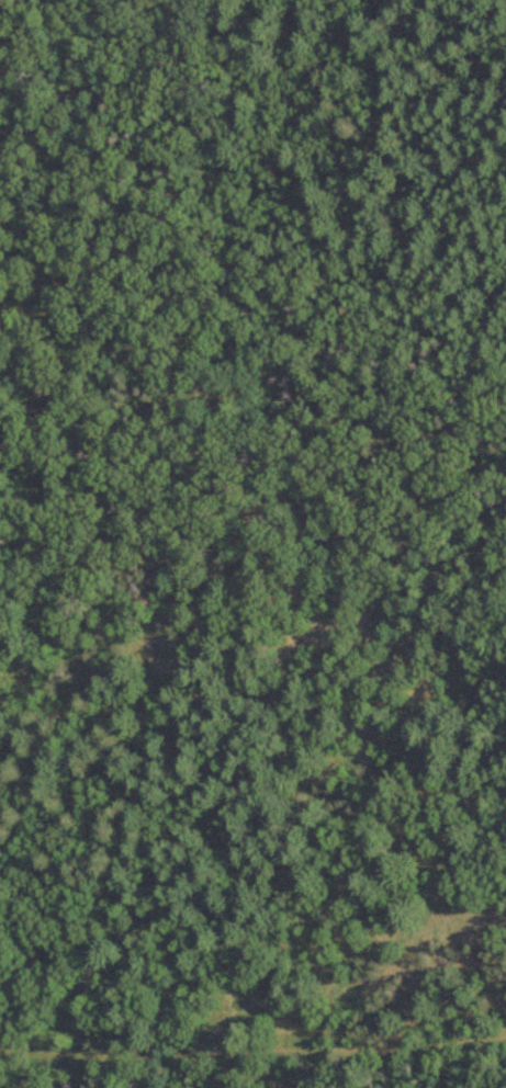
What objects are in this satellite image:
road: (252, 1032)

